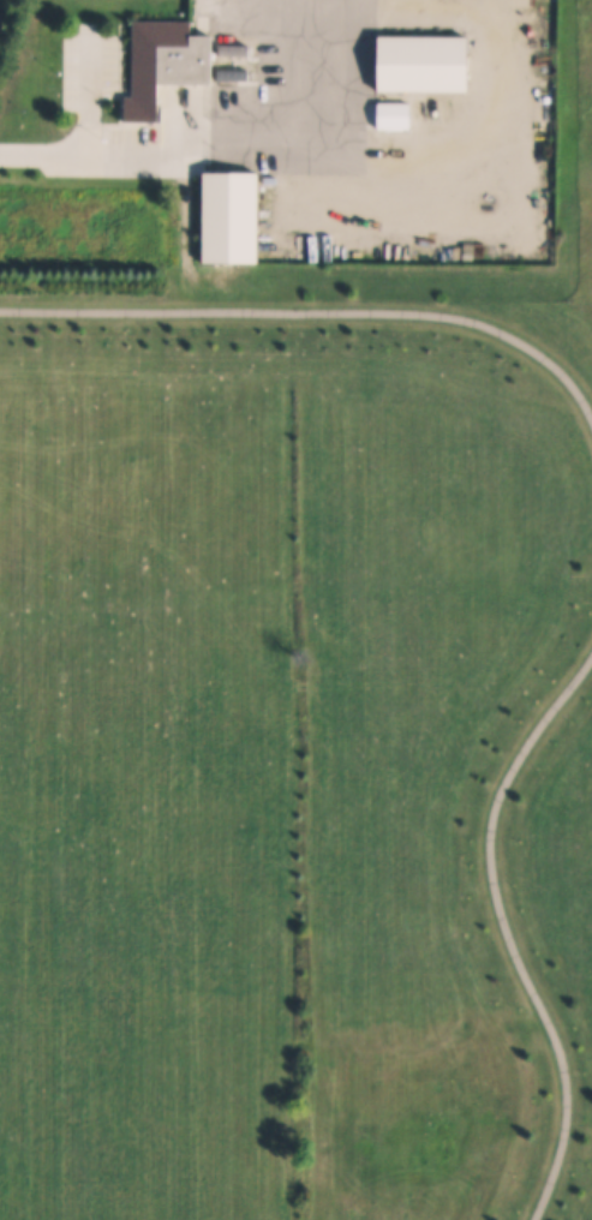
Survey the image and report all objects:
building: (167, 65)
building: (423, 65)
parking lot: (82, 104)
building: (395, 116)
road: (103, 151)
building: (235, 219)
road: (317, 313)
road: (503, 931)

